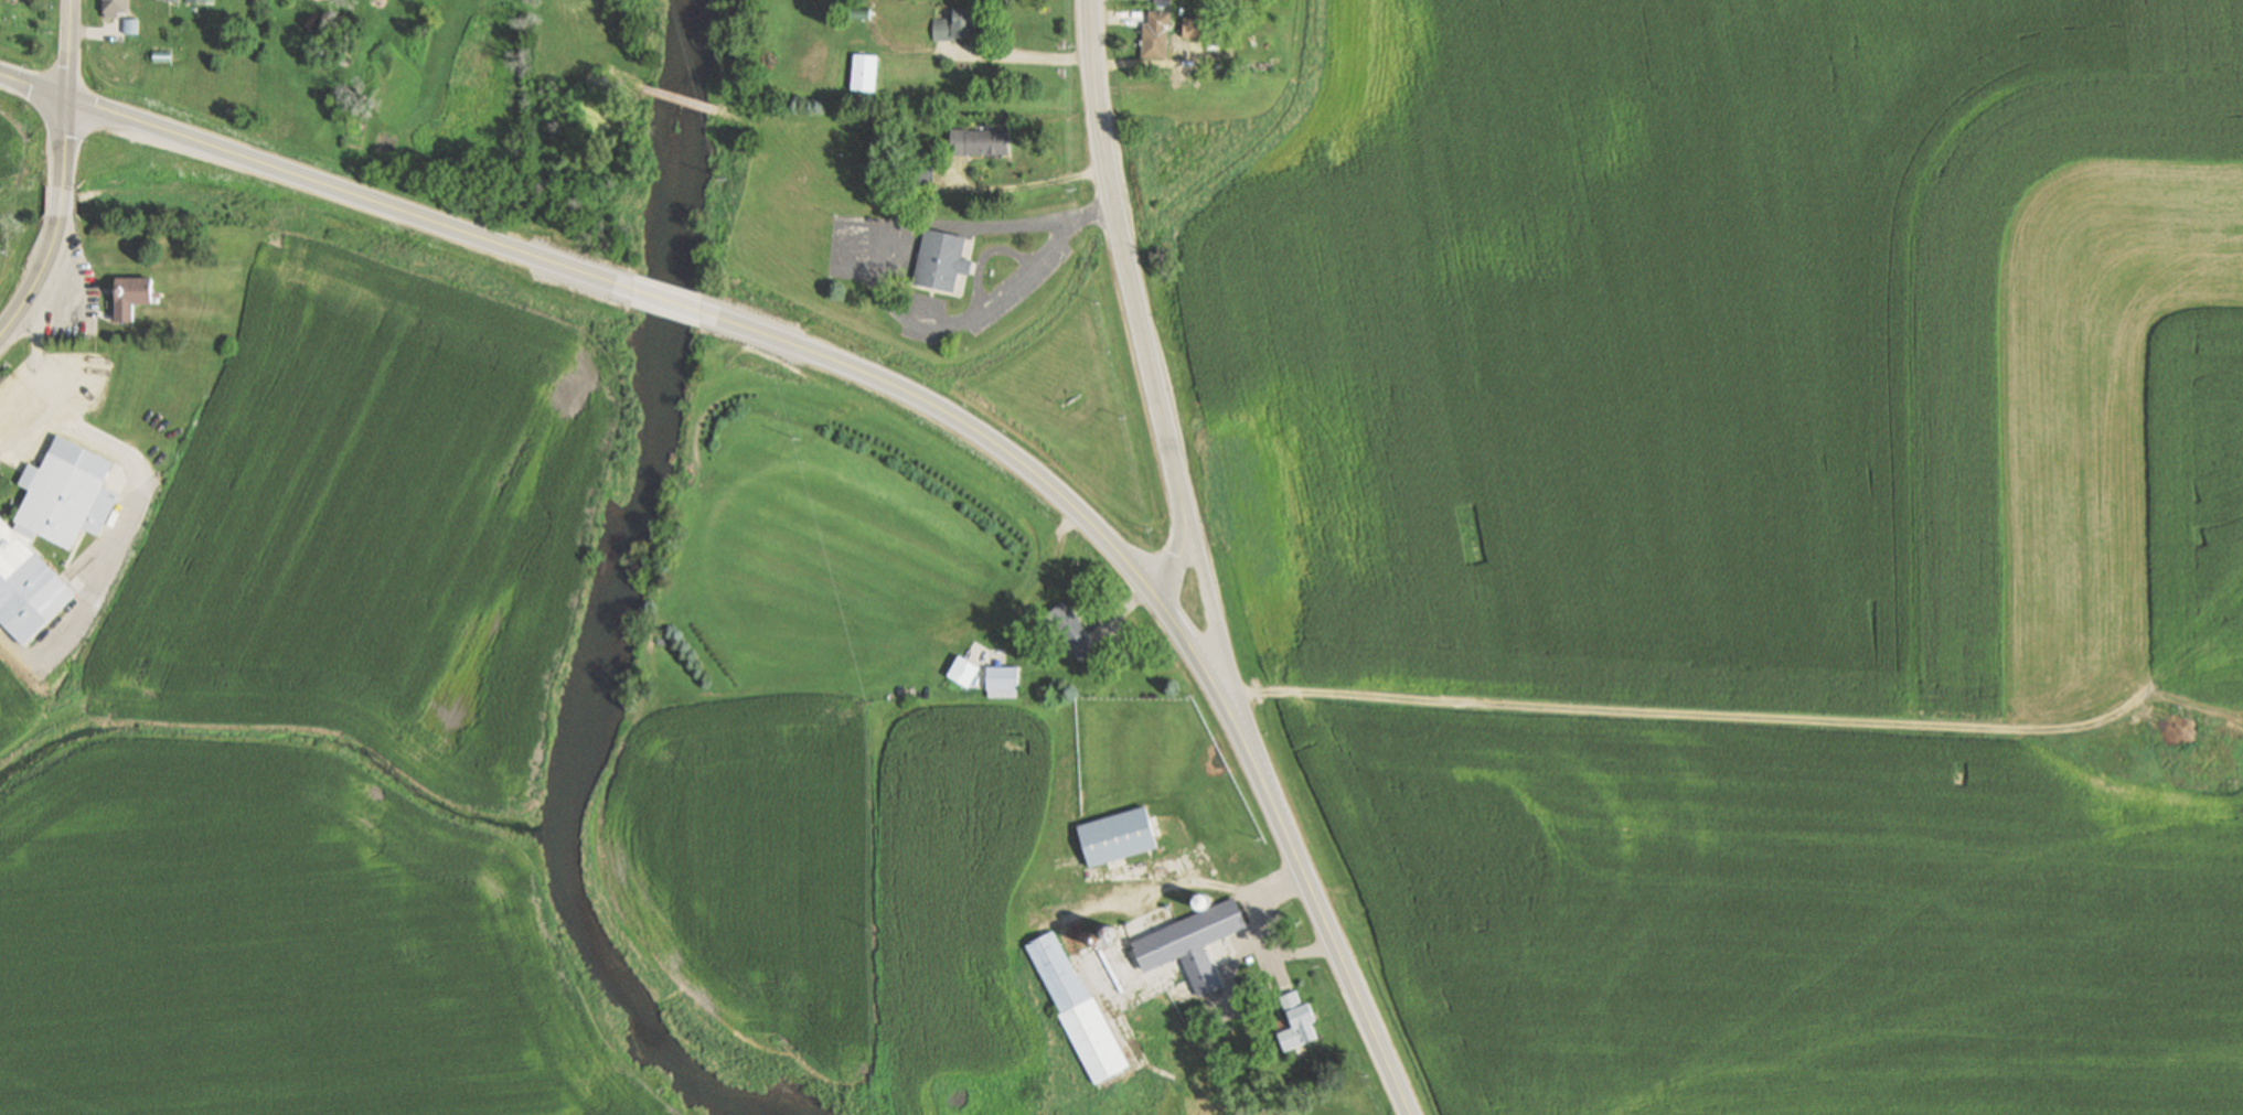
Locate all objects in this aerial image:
building: (164, 0)
building: (201, 1)
building: (1162, 1)
building: (114, 8)
building: (861, 12)
building: (954, 24)
building: (131, 25)
building: (1195, 28)
building: (1155, 34)
road: (68, 50)
road: (580, 50)
building: (161, 56)
building: (864, 72)
road: (676, 86)
crop: (1196, 129)
crop: (11, 141)
road: (791, 141)
building: (978, 142)
building: (920, 169)
road: (316, 181)
road: (1093, 214)
road: (56, 226)
road: (995, 227)
road: (1117, 227)
crop: (1, 242)
road: (972, 245)
road: (984, 257)
building: (940, 262)
road: (966, 268)
road: (969, 268)
road: (974, 270)
parking lot: (1023, 281)
road: (943, 293)
road: (932, 294)
parking lot: (73, 297)
building: (129, 297)
road: (666, 298)
crop: (1850, 304)
road: (51, 319)
road: (951, 322)
road: (799, 345)
crop: (1463, 355)
crop: (2061, 375)
road: (85, 385)
parking lot: (46, 404)
crop: (2198, 498)
crop: (375, 525)
building: (15, 550)
road: (1179, 609)
river: (608, 624)
building: (1068, 630)
road: (1531, 630)
building: (662, 640)
building: (963, 671)
building: (1002, 678)
crop: (14, 712)
road: (1690, 714)
building: (1117, 836)
building: (1249, 859)
crop: (755, 869)
road: (1316, 889)
building: (1203, 900)
silo: (1203, 900)
crop: (965, 909)
building: (1173, 918)
silo: (1173, 918)
crop: (1788, 918)
building: (1185, 940)
crop: (280, 948)
building: (1077, 1010)
building: (1295, 1022)

